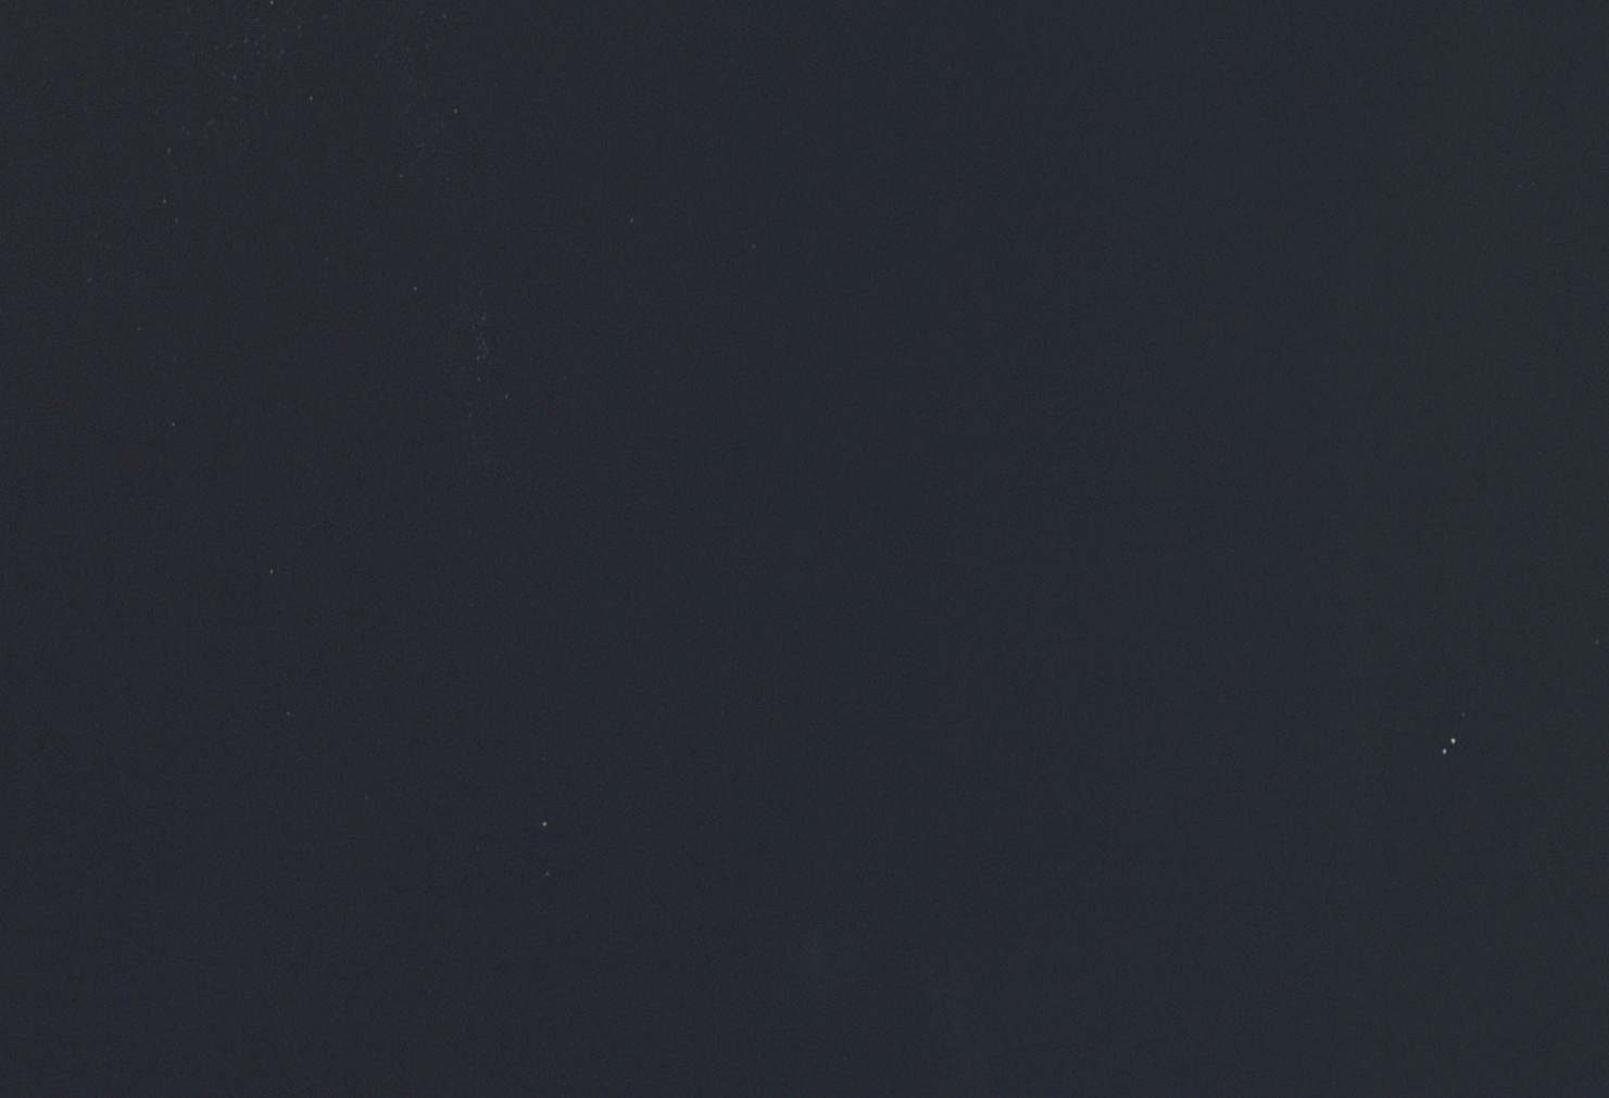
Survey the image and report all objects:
river: (92, 162)

